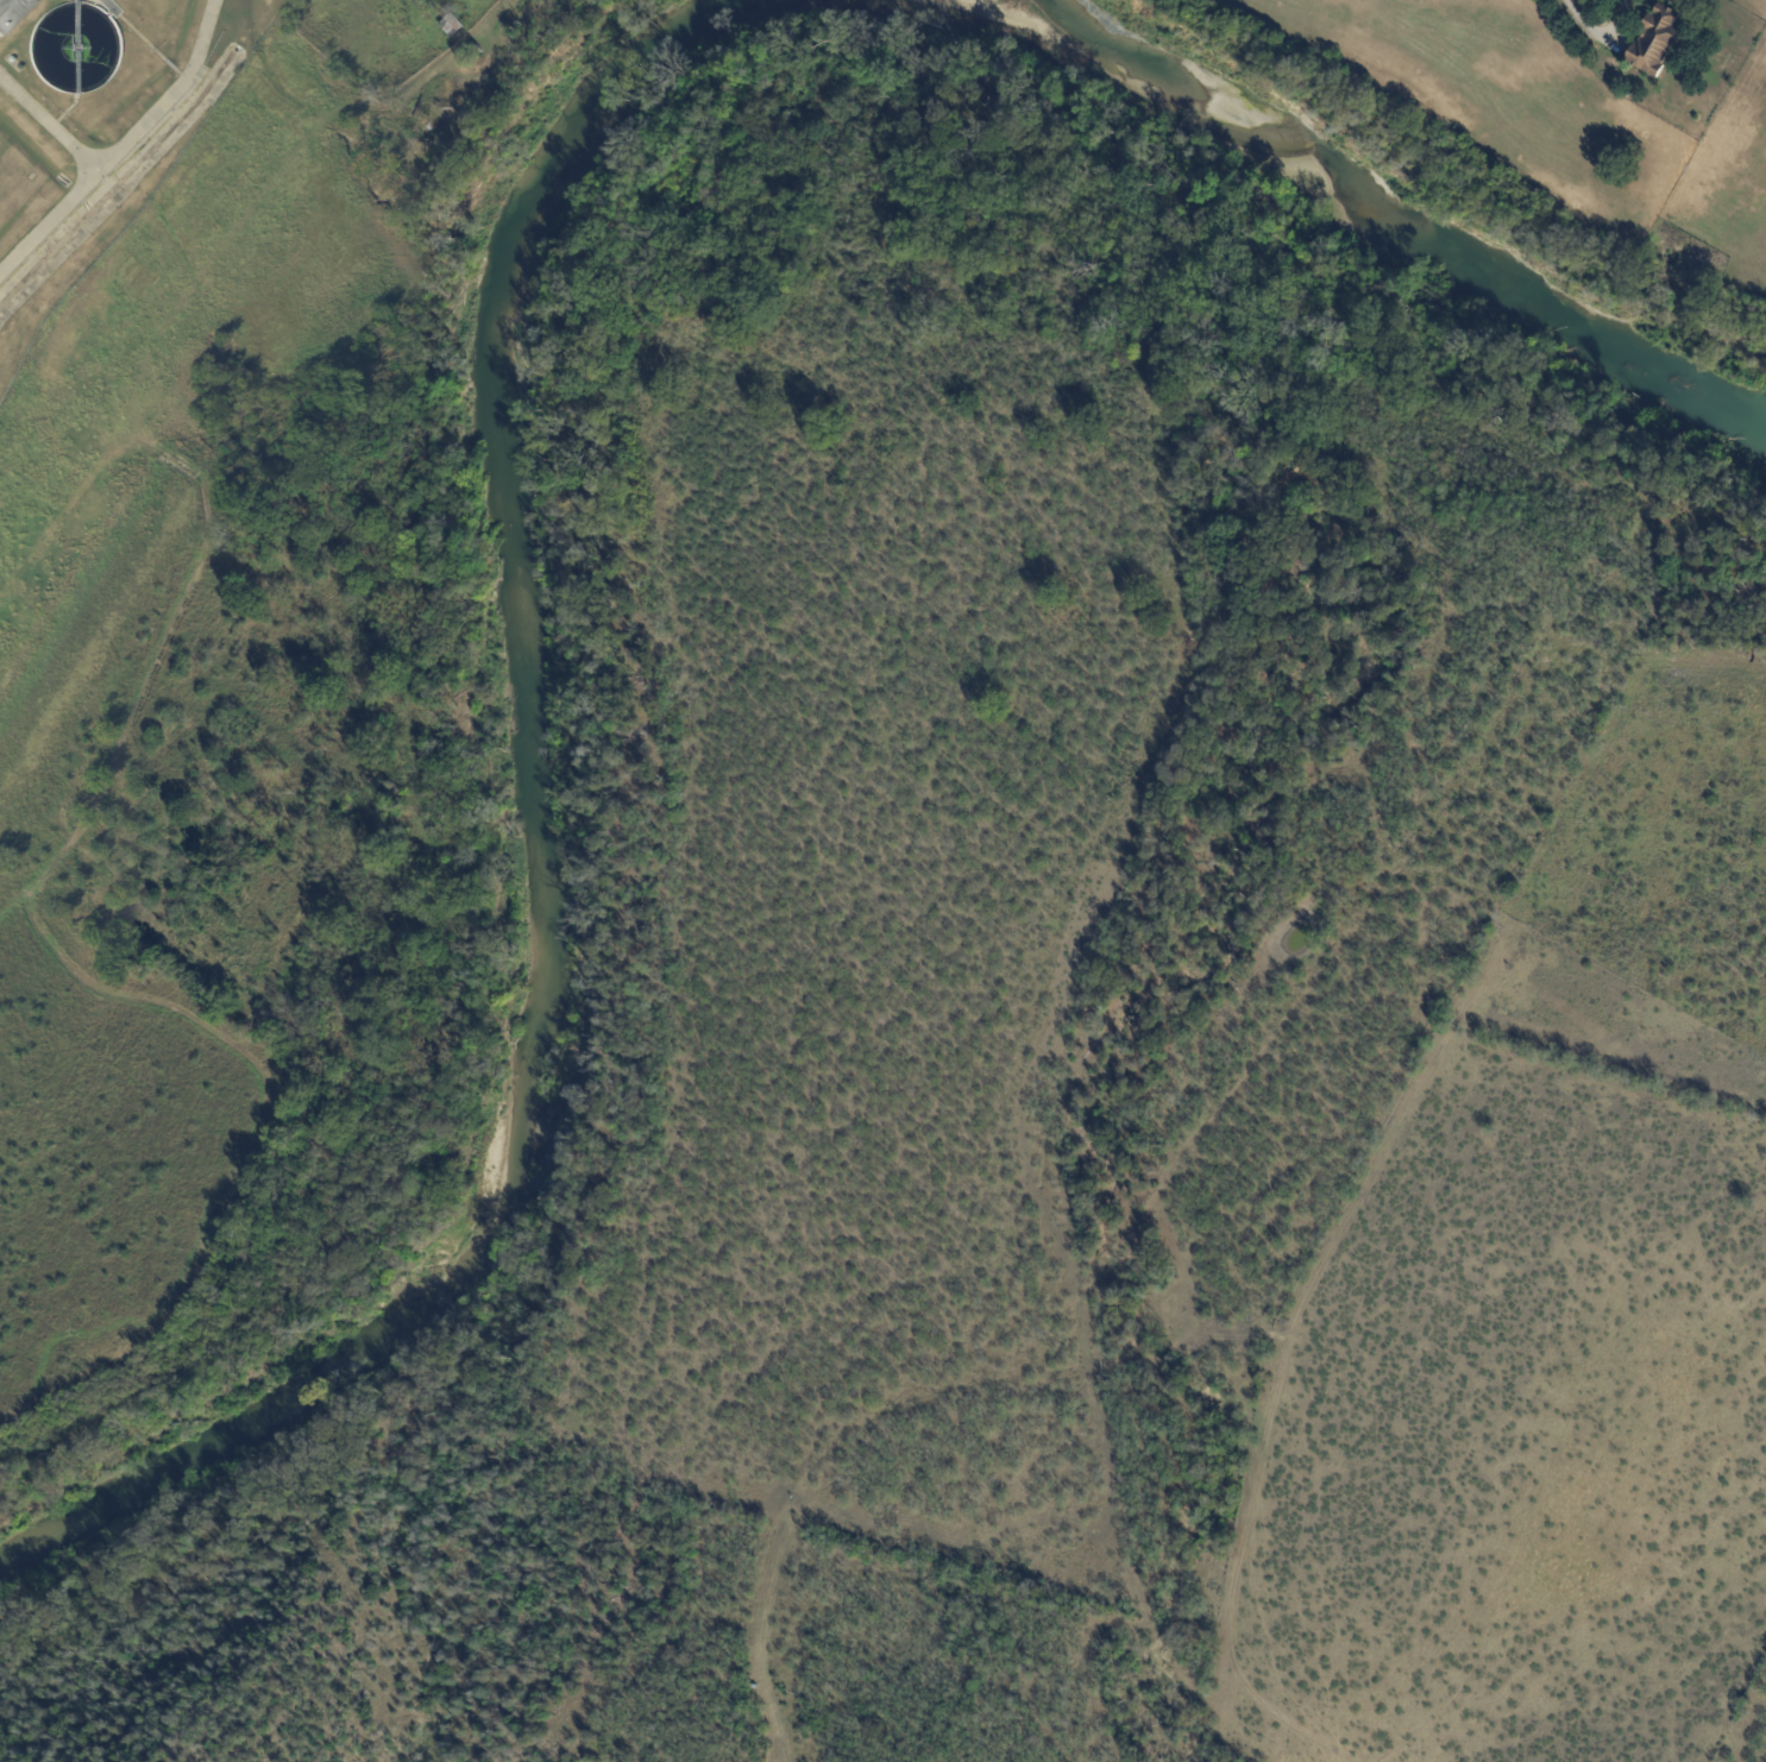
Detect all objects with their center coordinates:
building: (1689, 4)
road: (1619, 7)
building: (11, 12)
building: (453, 26)
building: (1659, 42)
building: (477, 52)
road: (49, 125)
wastewater plant: (95, 127)
road: (124, 145)
river: (1397, 218)
river: (539, 855)
park: (98, 1711)

